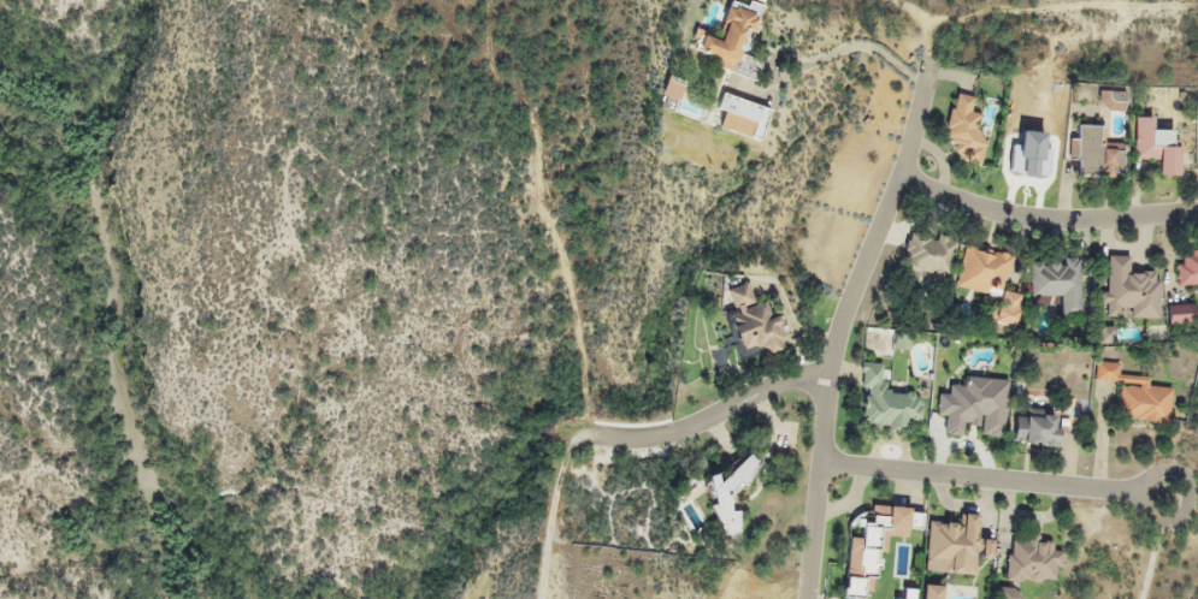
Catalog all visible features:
road: (921, 18)
building: (1111, 100)
building: (1197, 100)
building: (964, 130)
building: (1156, 146)
building: (1096, 152)
road: (1046, 218)
building: (930, 255)
building: (1188, 268)
building: (990, 280)
building: (1057, 281)
building: (1131, 290)
building: (1179, 314)
road: (843, 322)
building: (1105, 334)
building: (1137, 395)
building: (886, 402)
building: (975, 405)
road: (712, 411)
building: (1037, 427)
road: (993, 478)
building: (720, 494)
building: (875, 542)
building: (957, 545)
building: (1032, 559)
building: (932, 591)
building: (1009, 593)

